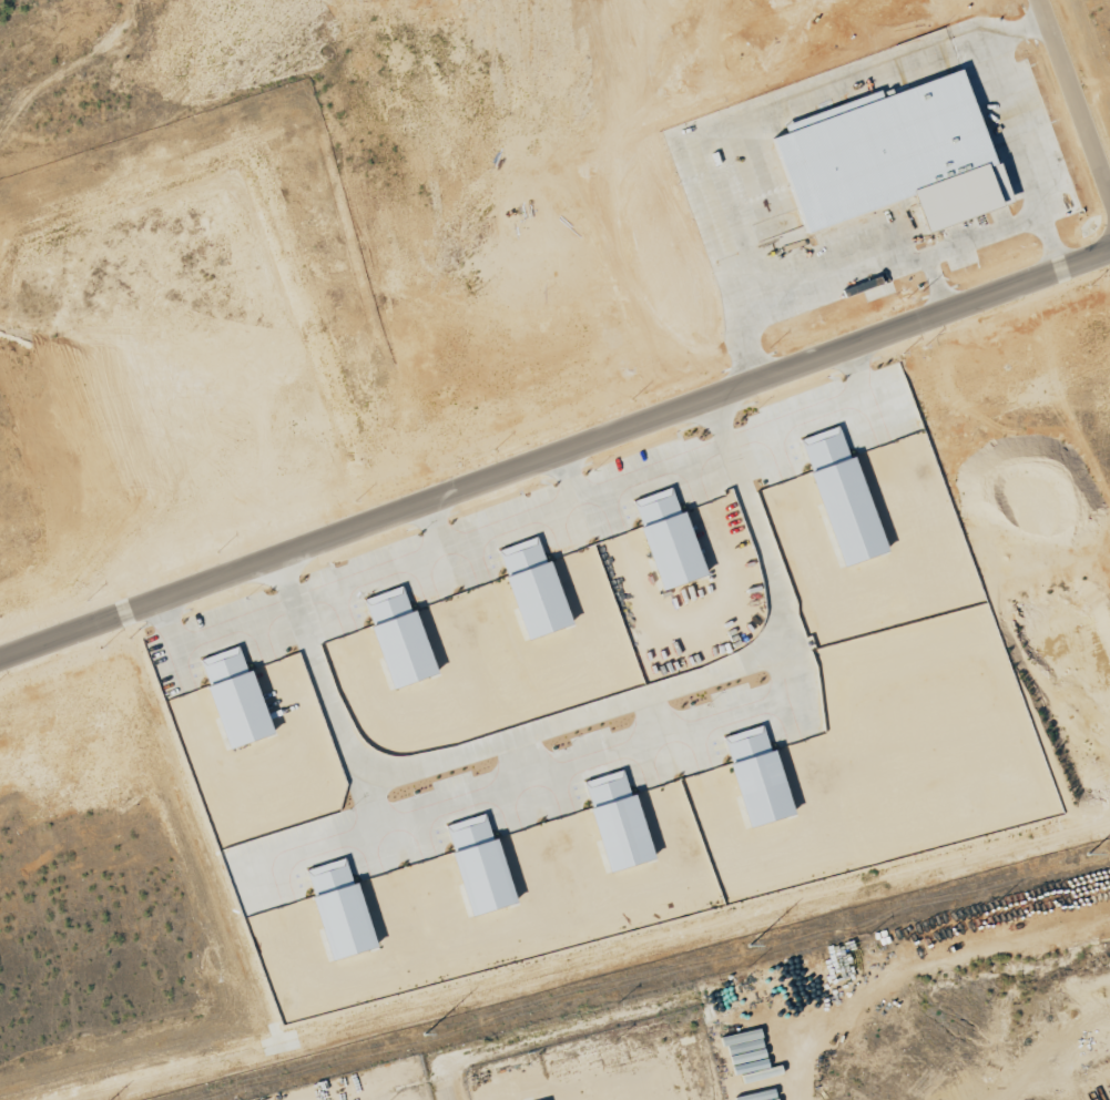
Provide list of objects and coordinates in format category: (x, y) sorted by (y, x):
road: (554, 476)
building: (838, 496)
building: (664, 538)
building: (530, 588)
building: (395, 638)
building: (232, 697)
building: (753, 776)
building: (613, 821)
road: (583, 822)
power tower: (1081, 855)
building: (476, 865)
building: (336, 909)
power tower: (743, 947)
power tower: (424, 1033)
road: (445, 1099)

